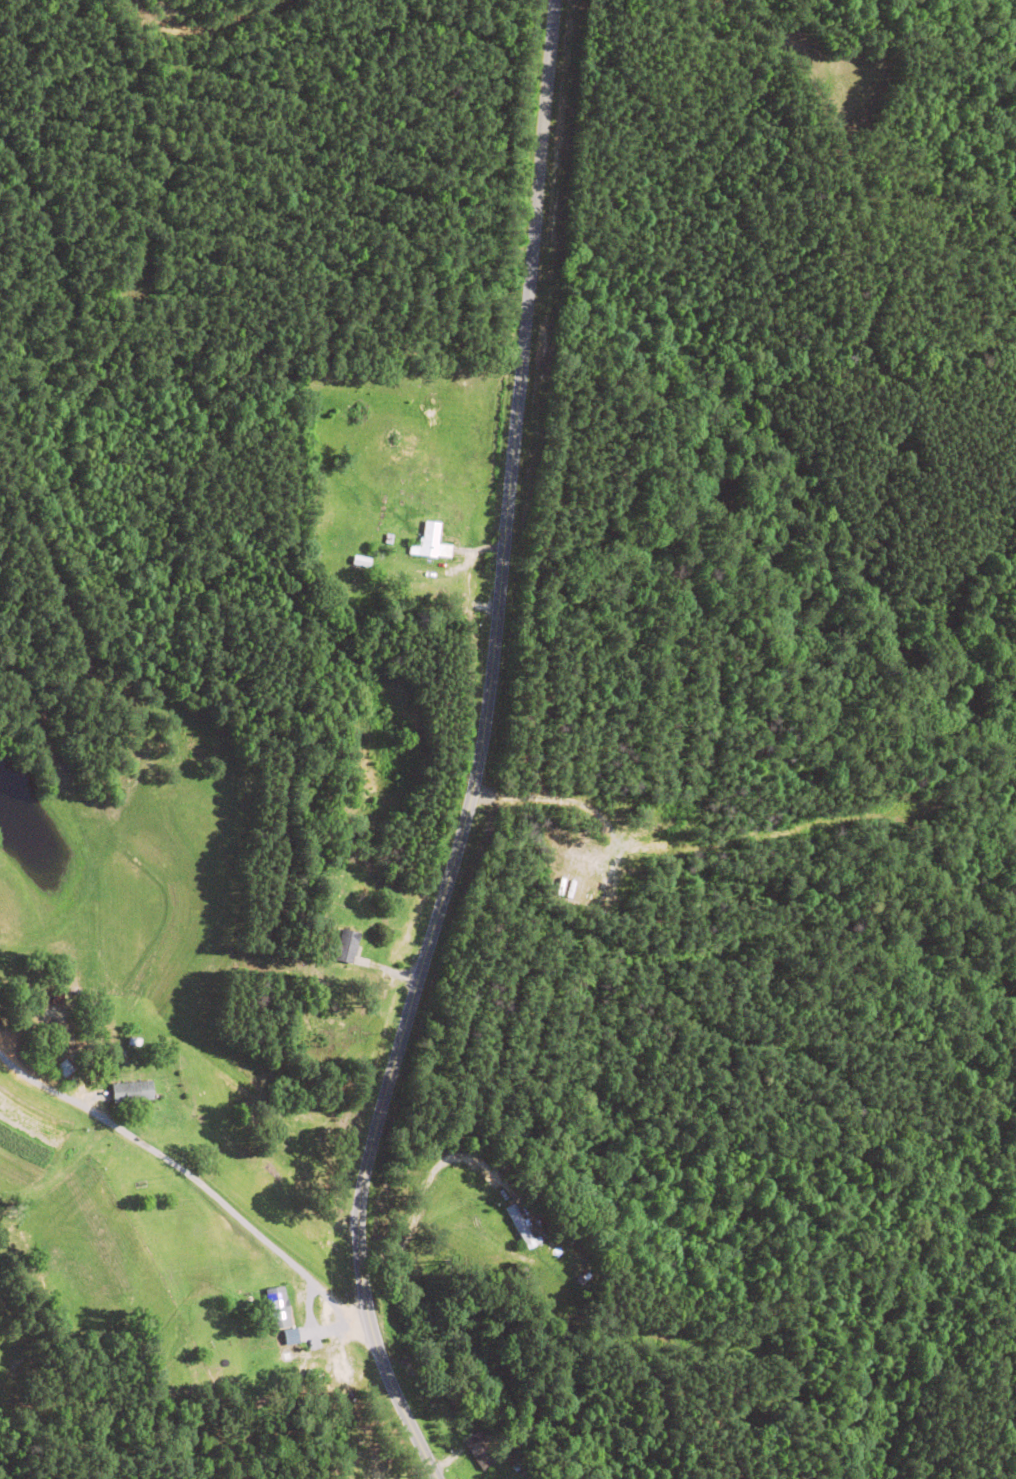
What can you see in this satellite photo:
road: (795, 63)
road: (524, 162)
road: (425, 909)
building: (346, 946)
building: (64, 1068)
building: (130, 1092)
road: (189, 1162)
building: (519, 1227)
building: (278, 1307)
building: (483, 1449)

